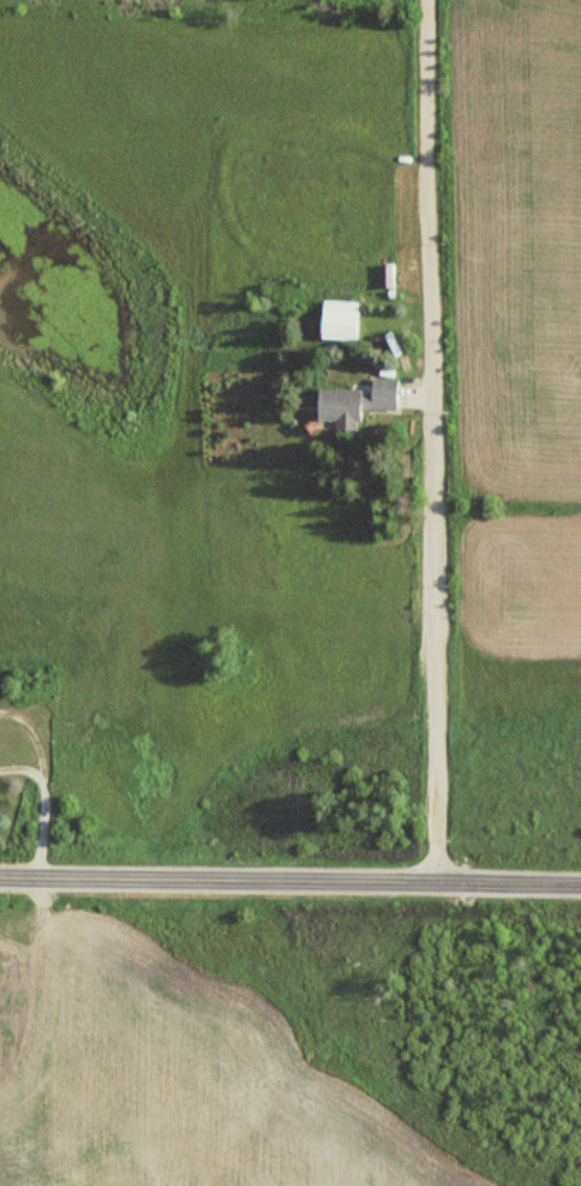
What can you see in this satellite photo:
building: (340, 318)
building: (354, 401)
road: (435, 440)
road: (290, 878)

